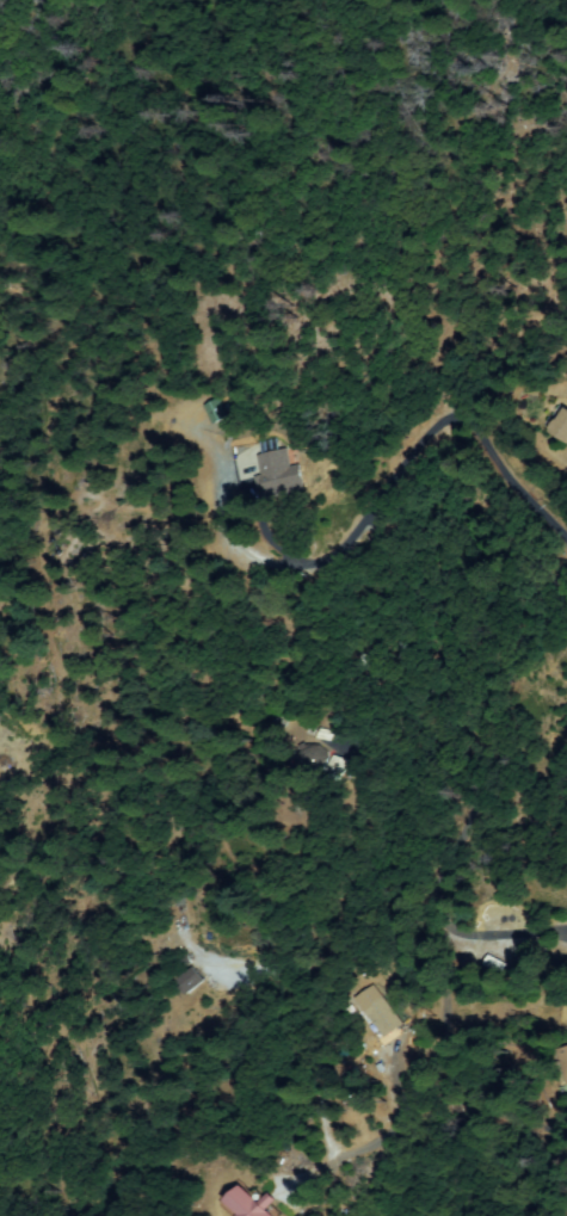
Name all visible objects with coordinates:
building: (215, 412)
building: (562, 425)
building: (277, 475)
building: (323, 739)
building: (310, 759)
building: (334, 766)
road: (325, 939)
building: (497, 965)
building: (192, 981)
building: (376, 1012)
building: (563, 1058)
building: (251, 1204)

